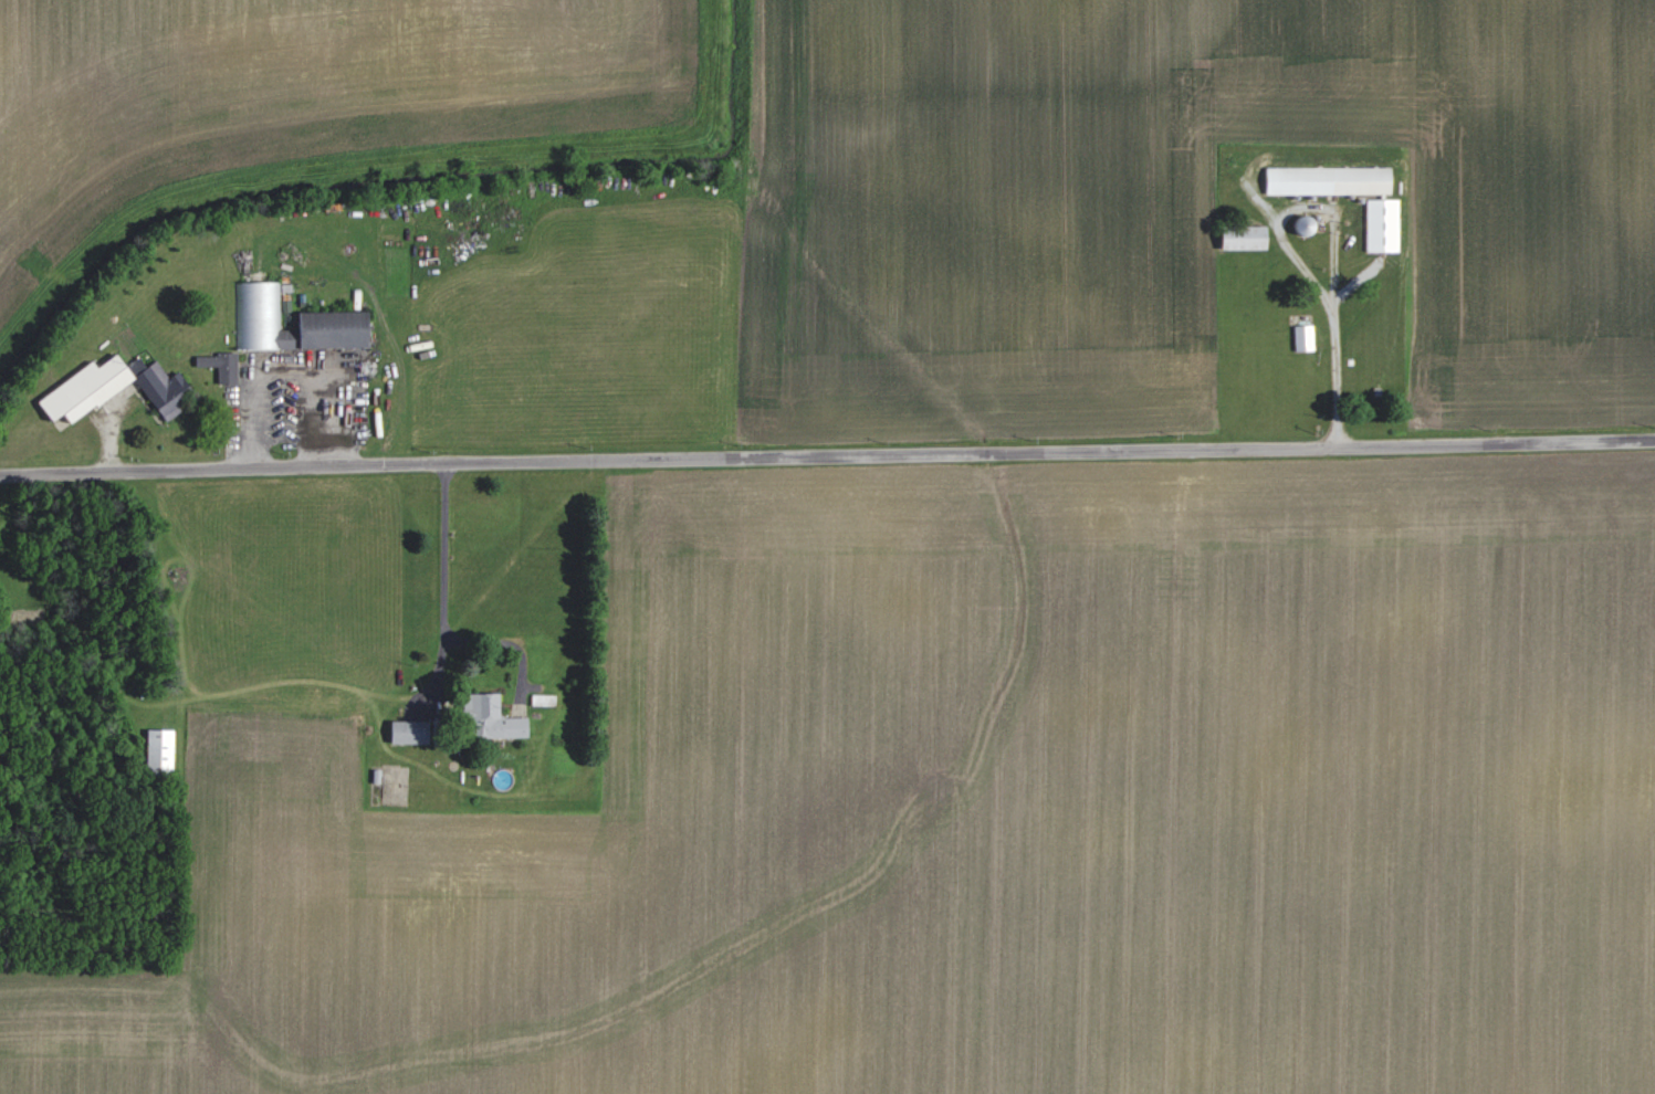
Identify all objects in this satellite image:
building: (1326, 180)
building: (1380, 225)
building: (1239, 239)
building: (328, 318)
building: (1301, 338)
building: (220, 364)
road: (283, 368)
building: (111, 387)
road: (827, 460)
road: (442, 551)
building: (485, 716)
building: (401, 730)
building: (157, 748)

